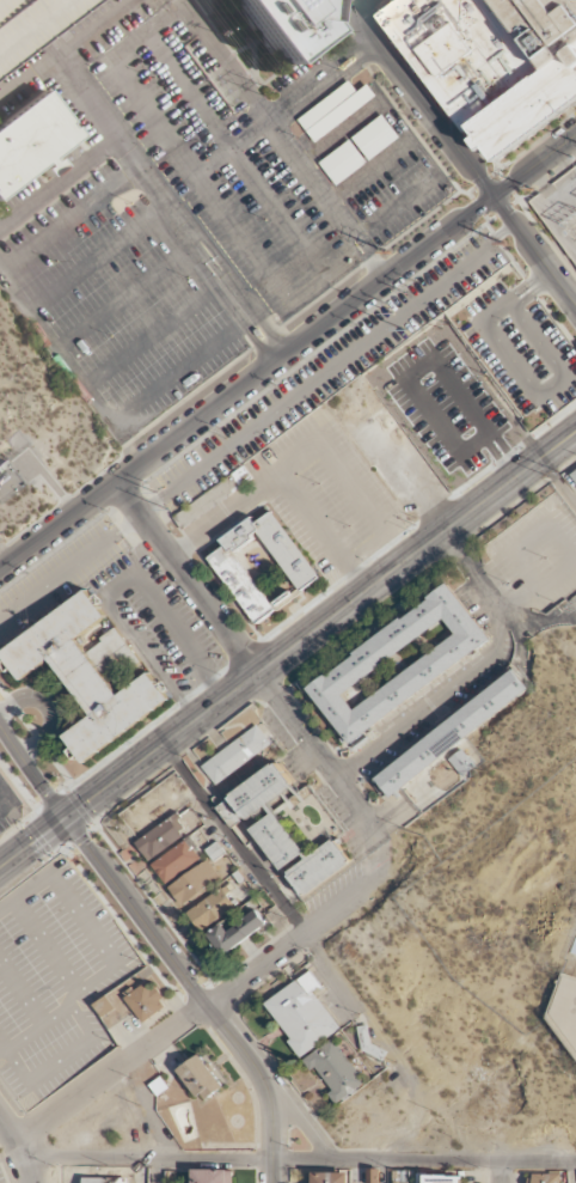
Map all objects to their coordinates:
road: (364, 0)
road: (366, 0)
road: (359, 4)
building: (29, 22)
parking garage: (29, 22)
building: (282, 24)
building: (497, 60)
building: (335, 110)
building: (375, 138)
building: (31, 141)
road: (462, 156)
building: (342, 163)
road: (539, 179)
power tower: (531, 190)
road: (559, 196)
power substation: (559, 212)
parking lot: (173, 217)
road: (557, 224)
power tower: (502, 244)
power tower: (386, 251)
power tower: (392, 312)
power tower: (404, 329)
parking lot: (520, 350)
road: (287, 354)
road: (394, 463)
road: (343, 476)
building: (572, 477)
road: (559, 478)
road: (510, 482)
power tower: (154, 493)
building: (215, 496)
power tower: (167, 506)
road: (72, 537)
road: (563, 542)
road: (202, 561)
building: (263, 566)
road: (69, 569)
road: (474, 574)
road: (354, 575)
road: (117, 586)
road: (213, 610)
road: (509, 620)
road: (544, 622)
road: (517, 642)
building: (362, 666)
road: (477, 666)
building: (90, 675)
road: (215, 676)
road: (221, 700)
road: (43, 712)
building: (452, 734)
road: (36, 737)
road: (382, 742)
building: (237, 755)
road: (154, 775)
road: (345, 789)
building: (263, 792)
parking lot: (4, 809)
building: (228, 815)
traffic signals: (67, 819)
building: (163, 836)
road: (375, 854)
building: (299, 856)
building: (176, 862)
road: (31, 872)
building: (195, 884)
road: (66, 894)
road: (152, 904)
building: (213, 908)
road: (121, 926)
building: (237, 934)
road: (164, 944)
road: (47, 946)
road: (251, 956)
parking lot: (55, 982)
road: (90, 983)
road: (22, 993)
building: (147, 1001)
building: (103, 1006)
road: (203, 1010)
building: (302, 1018)
road: (37, 1027)
road: (0, 1043)
road: (57, 1063)
building: (333, 1072)
building: (202, 1078)
road: (12, 1098)
road: (1, 1123)
road: (306, 1126)
road: (18, 1150)
road: (298, 1160)
road: (155, 1171)
road: (385, 1172)
road: (502, 1172)
road: (572, 1173)
building: (372, 1176)
building: (213, 1177)
building: (327, 1177)
parking lot: (1, 1178)
building: (439, 1178)
building: (545, 1178)
building: (104, 1181)

